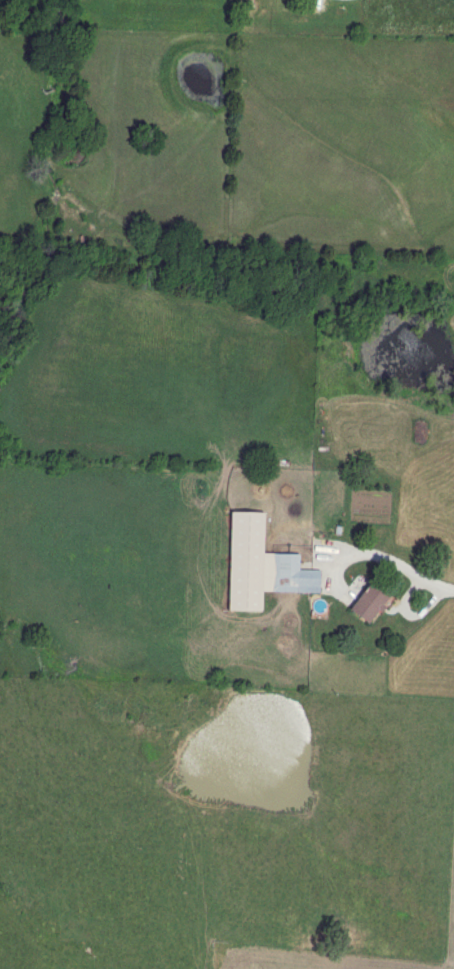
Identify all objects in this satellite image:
building: (261, 566)
road: (397, 567)
building: (367, 603)

